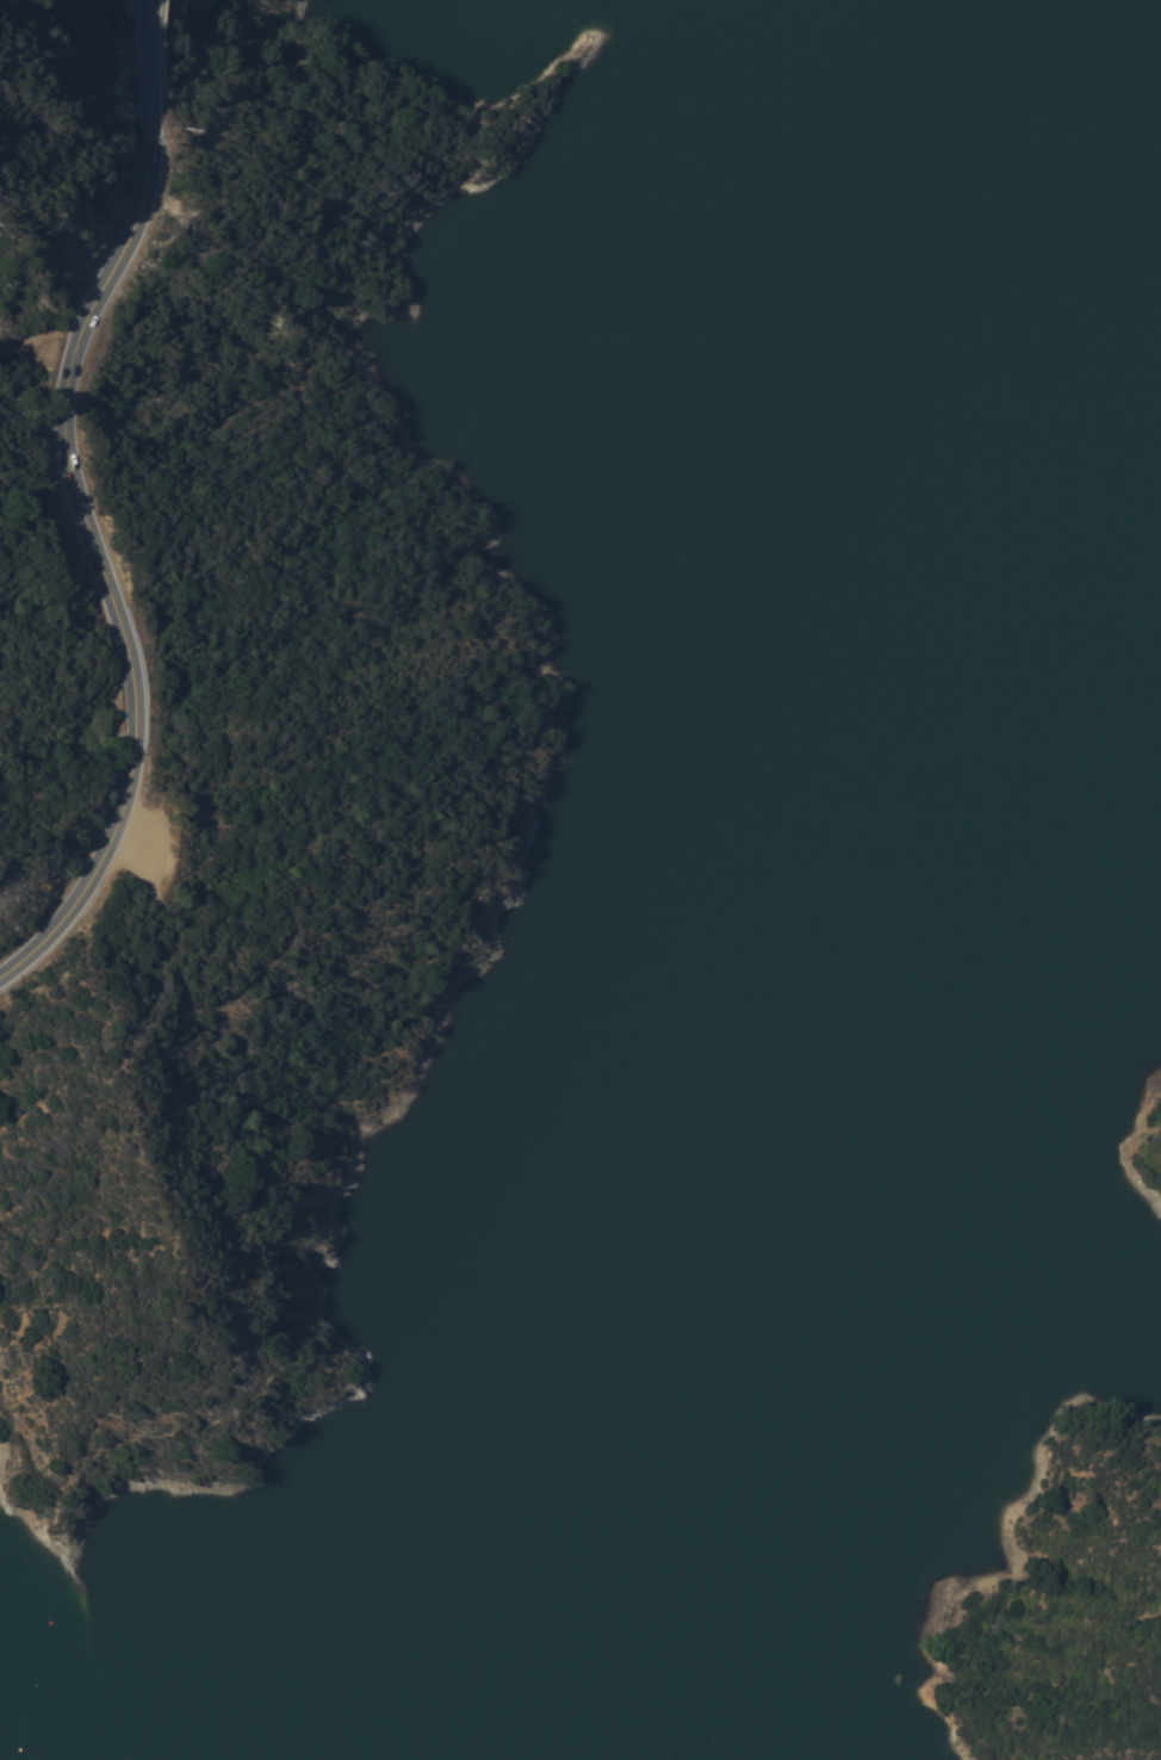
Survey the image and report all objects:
road: (79, 503)
parking lot: (148, 844)
river: (658, 929)

